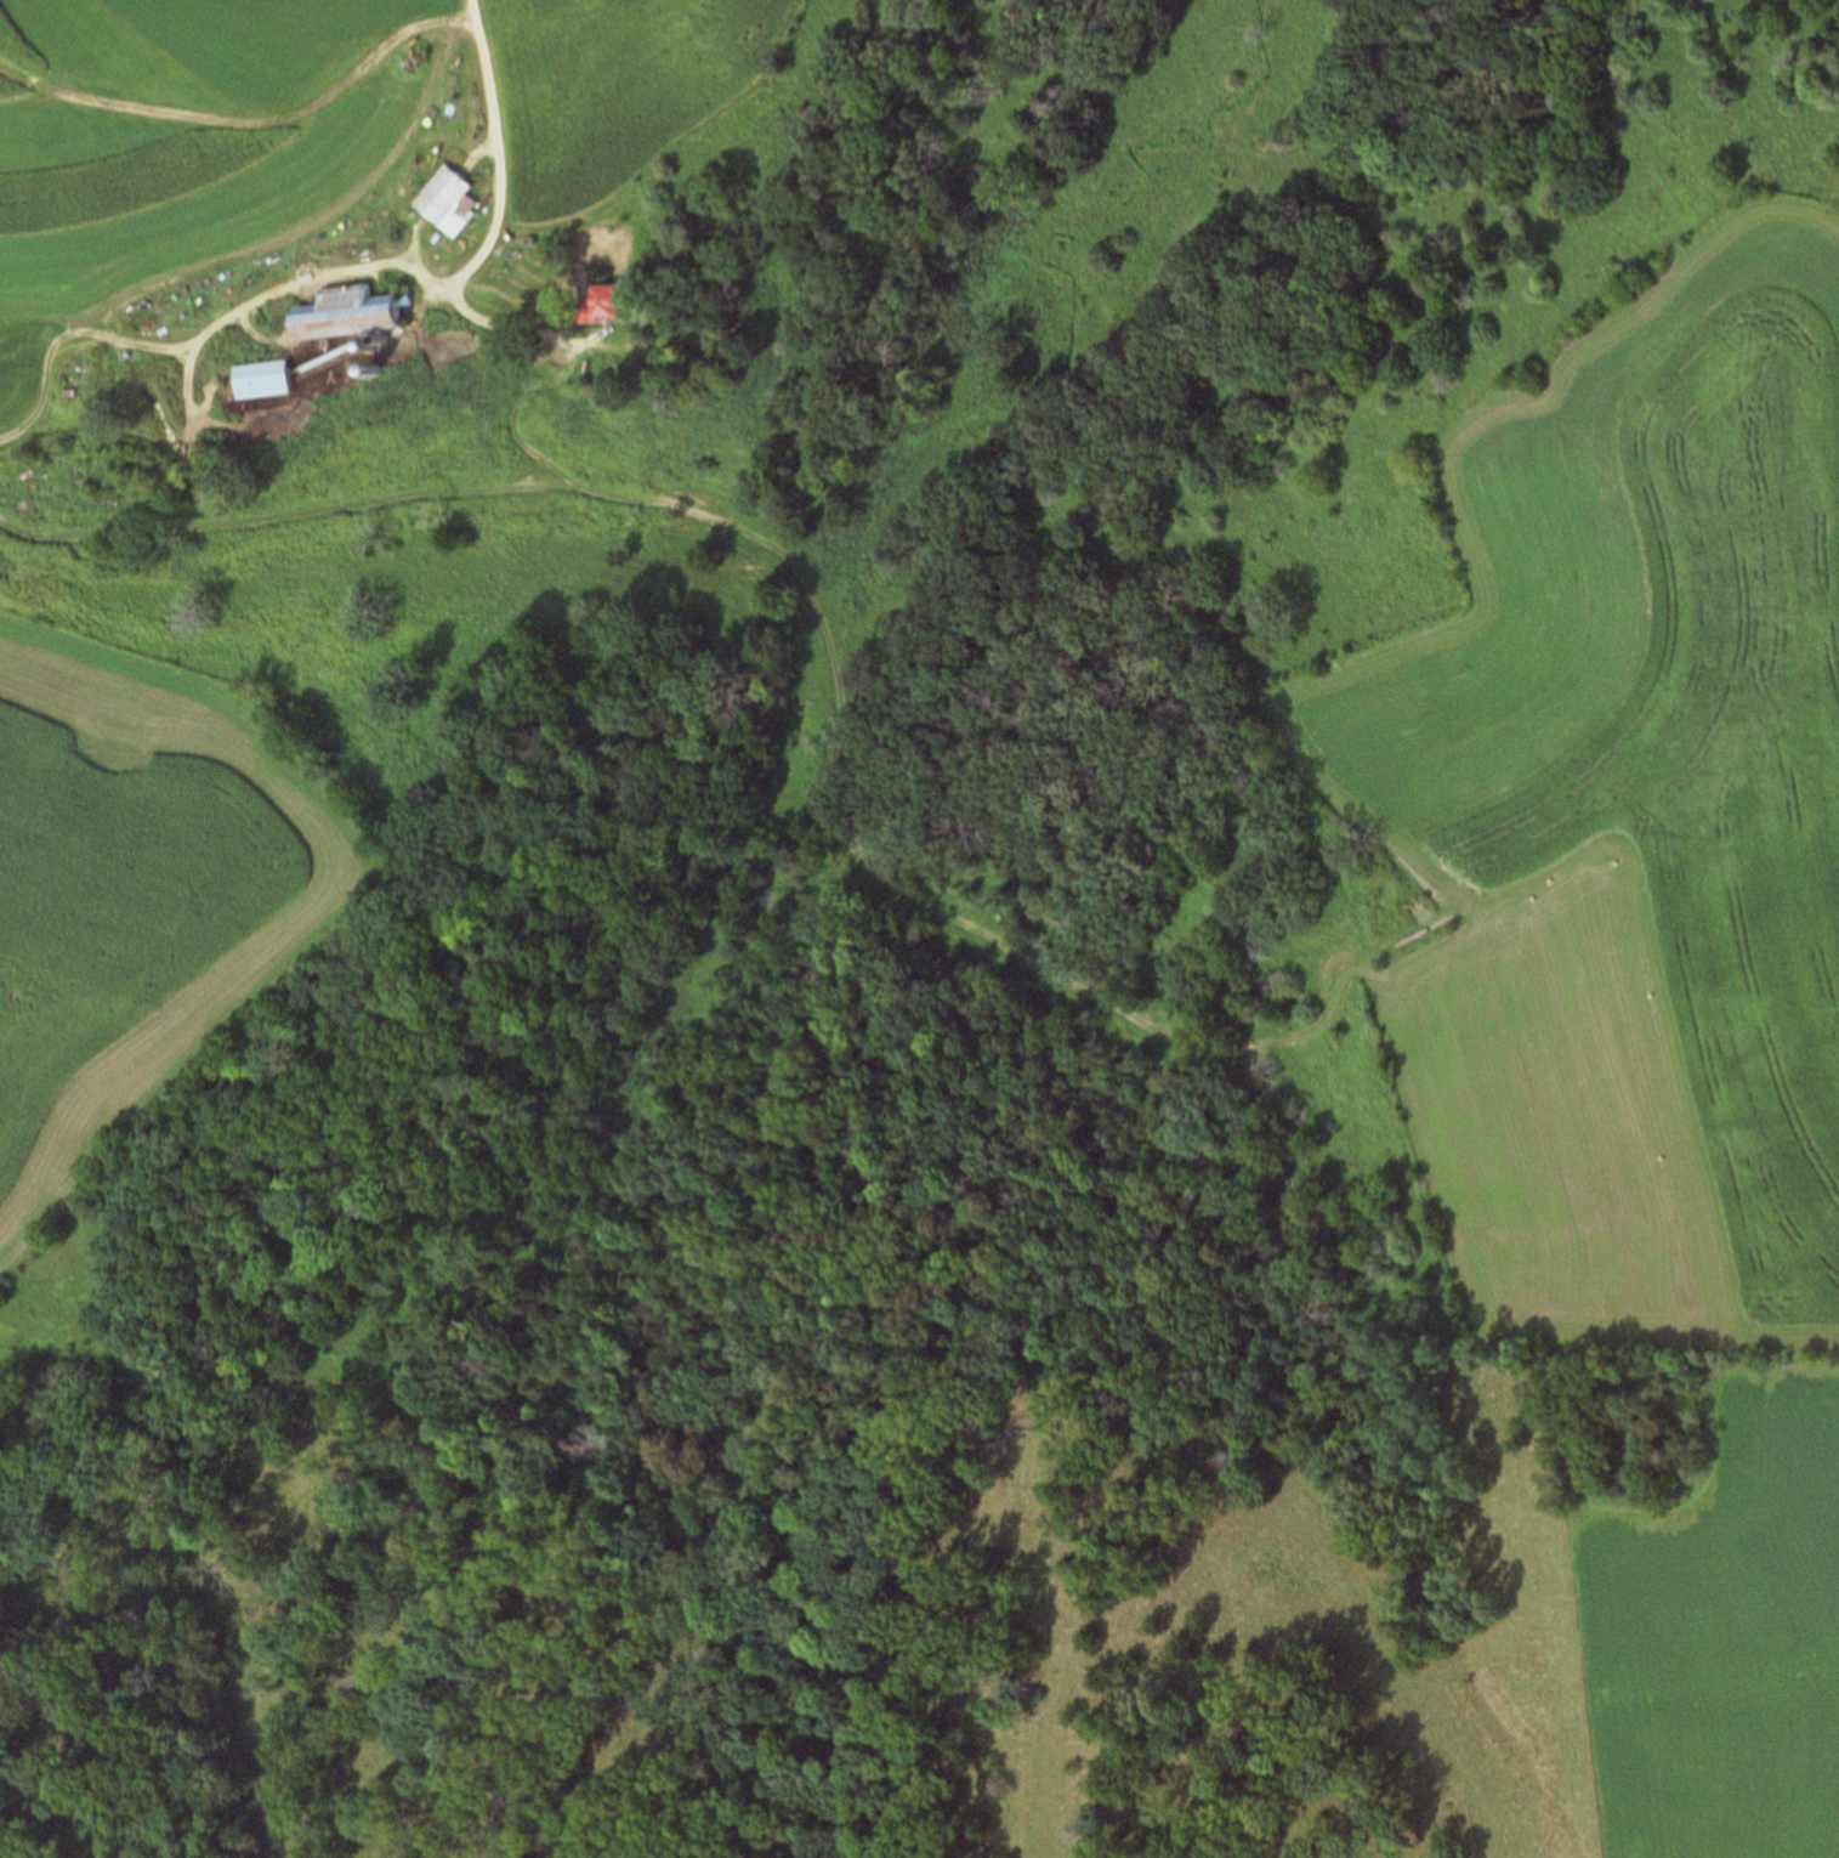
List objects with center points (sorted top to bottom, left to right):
road: (483, 74)
building: (444, 202)
building: (595, 304)
building: (341, 313)
building: (259, 381)

